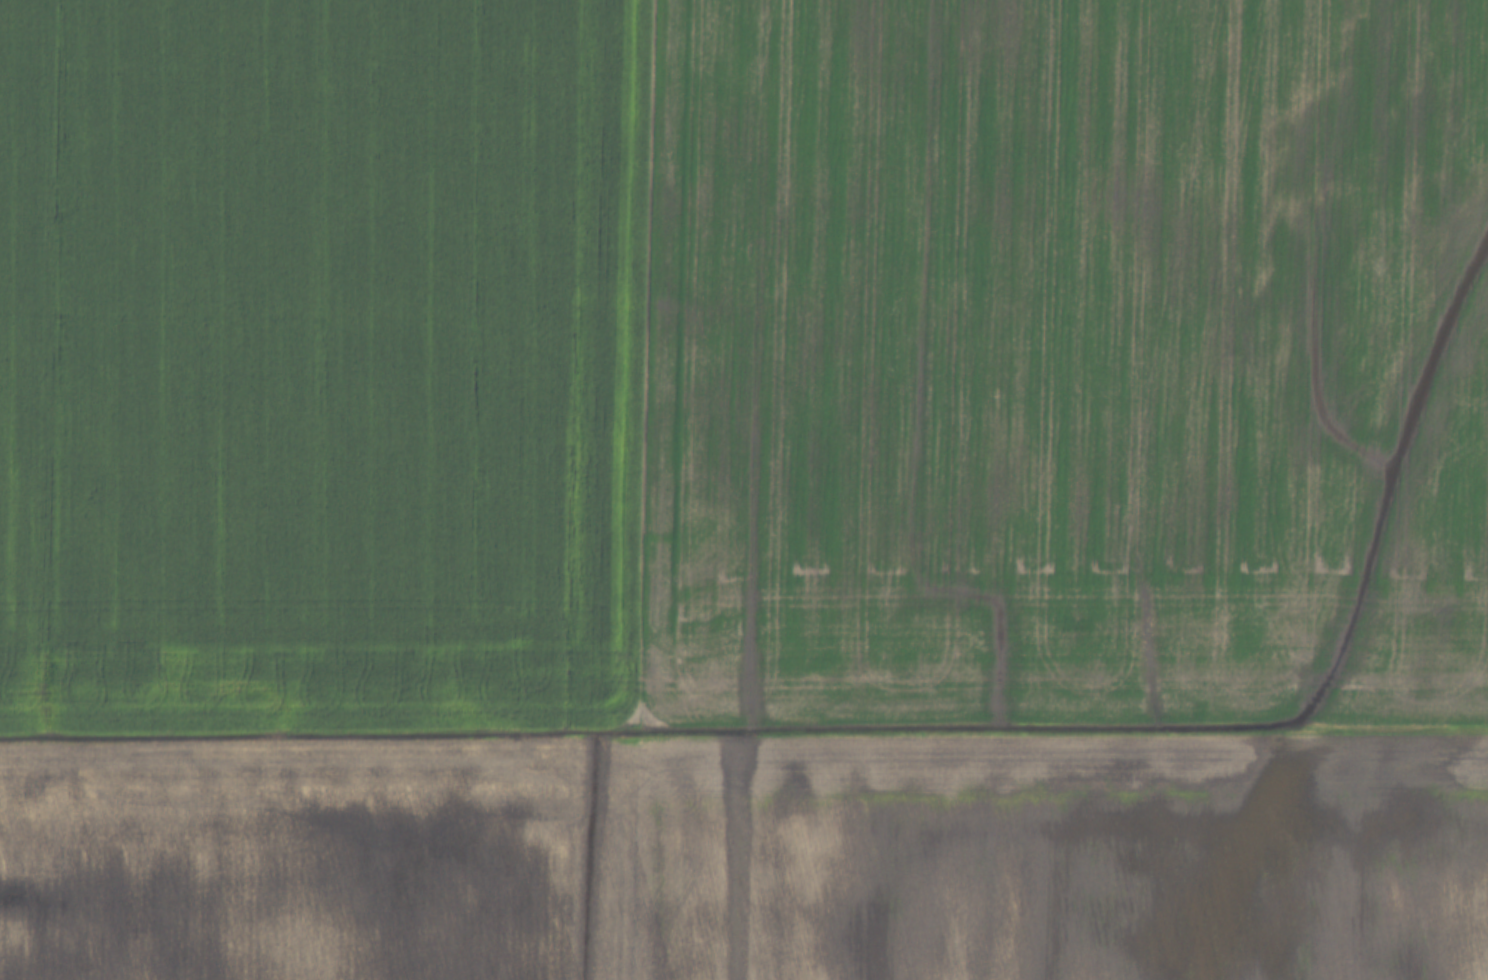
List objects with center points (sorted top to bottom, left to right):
crop: (312, 359)
crop: (1057, 360)
crop: (1062, 858)
crop: (315, 859)

